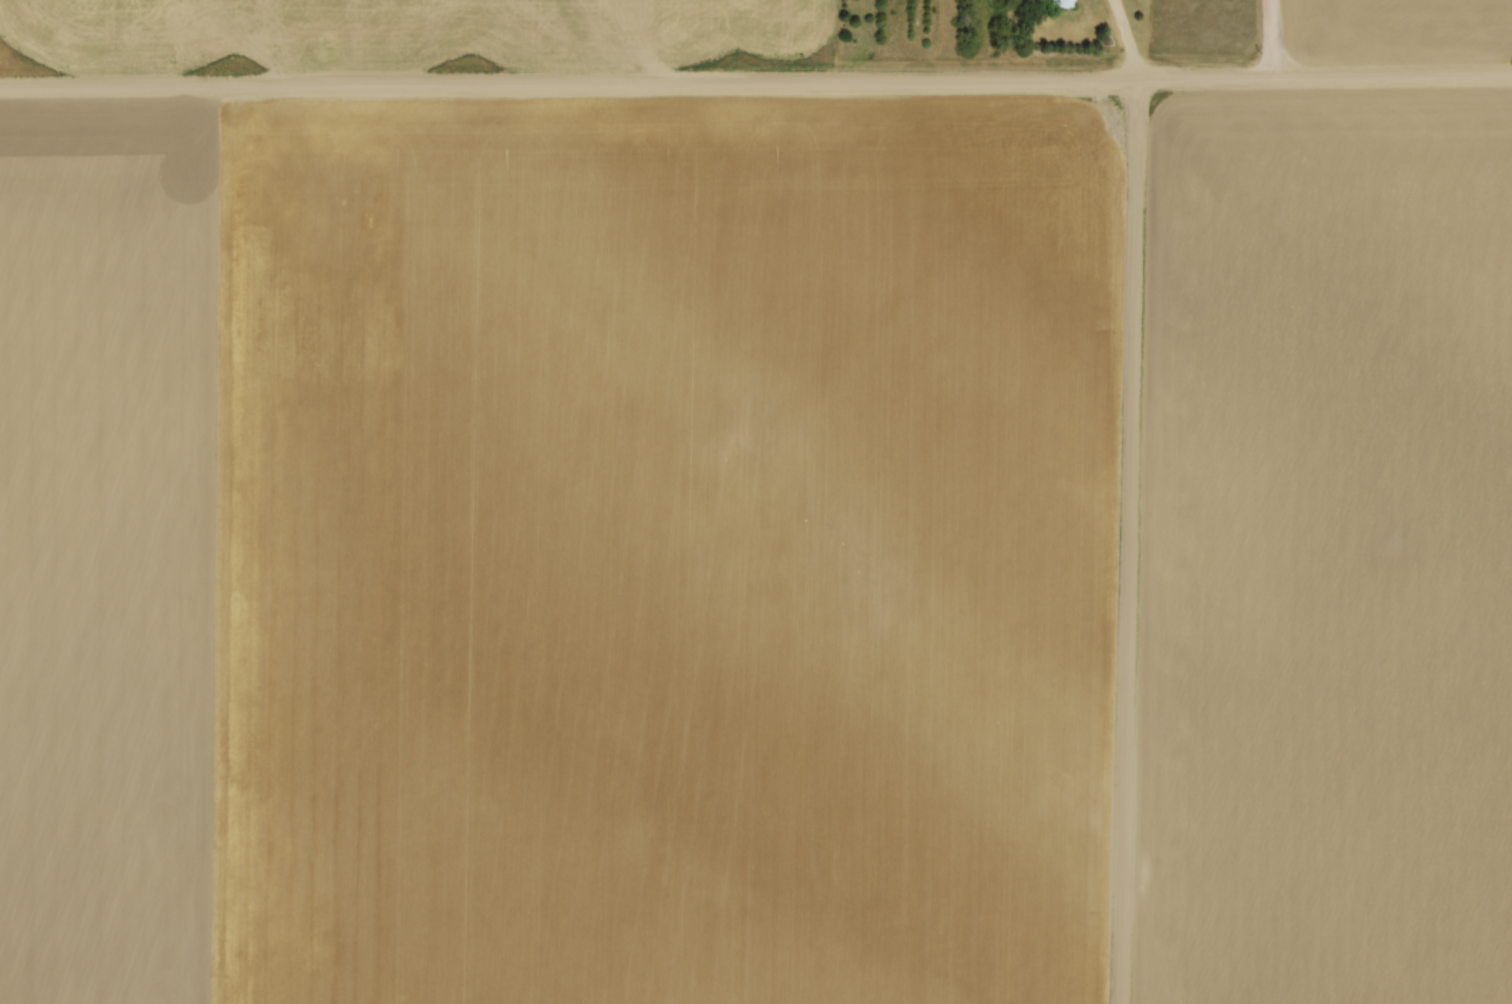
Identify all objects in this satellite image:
building: (1056, 2)
crop: (1396, 29)
crop: (412, 33)
road: (1123, 39)
road: (756, 82)
road: (1125, 541)
crop: (554, 549)
crop: (1326, 550)

